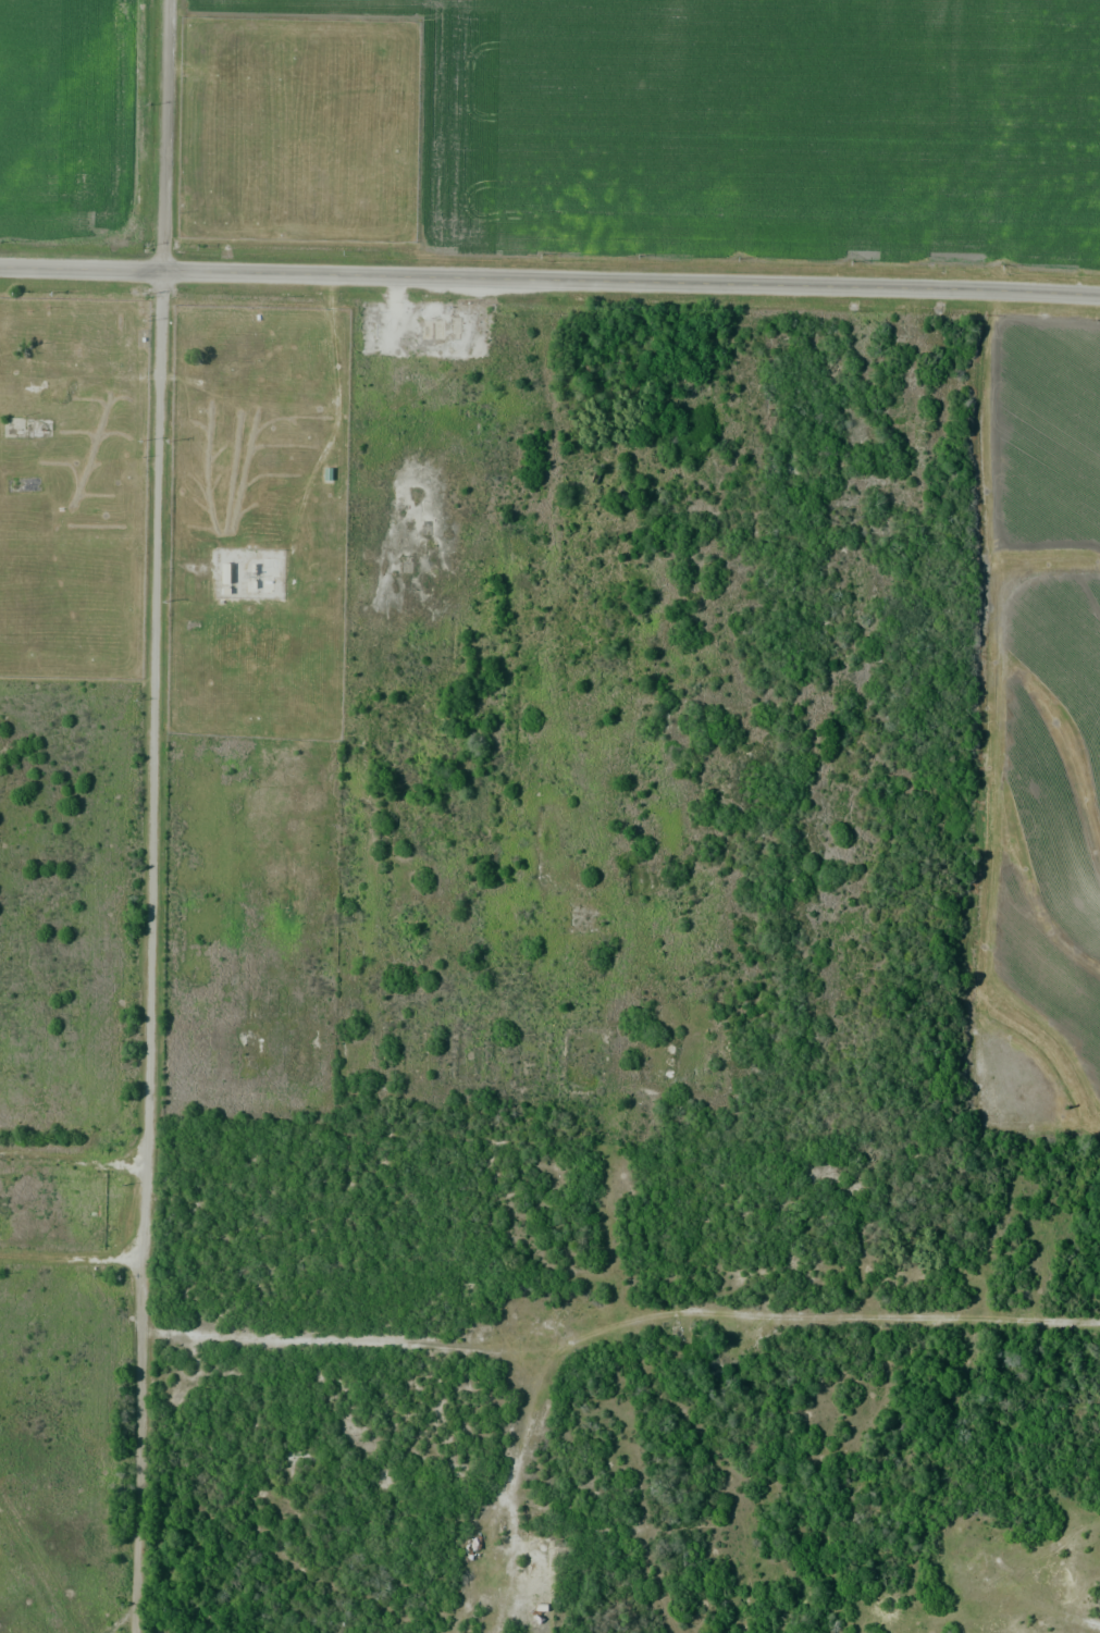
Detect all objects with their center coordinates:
road: (549, 284)
building: (217, 361)
building: (24, 428)
building: (196, 428)
building: (231, 506)
building: (195, 552)
building: (188, 718)
road: (150, 816)
road: (70, 1258)
building: (474, 1549)
building: (460, 1566)
road: (121, 1621)

